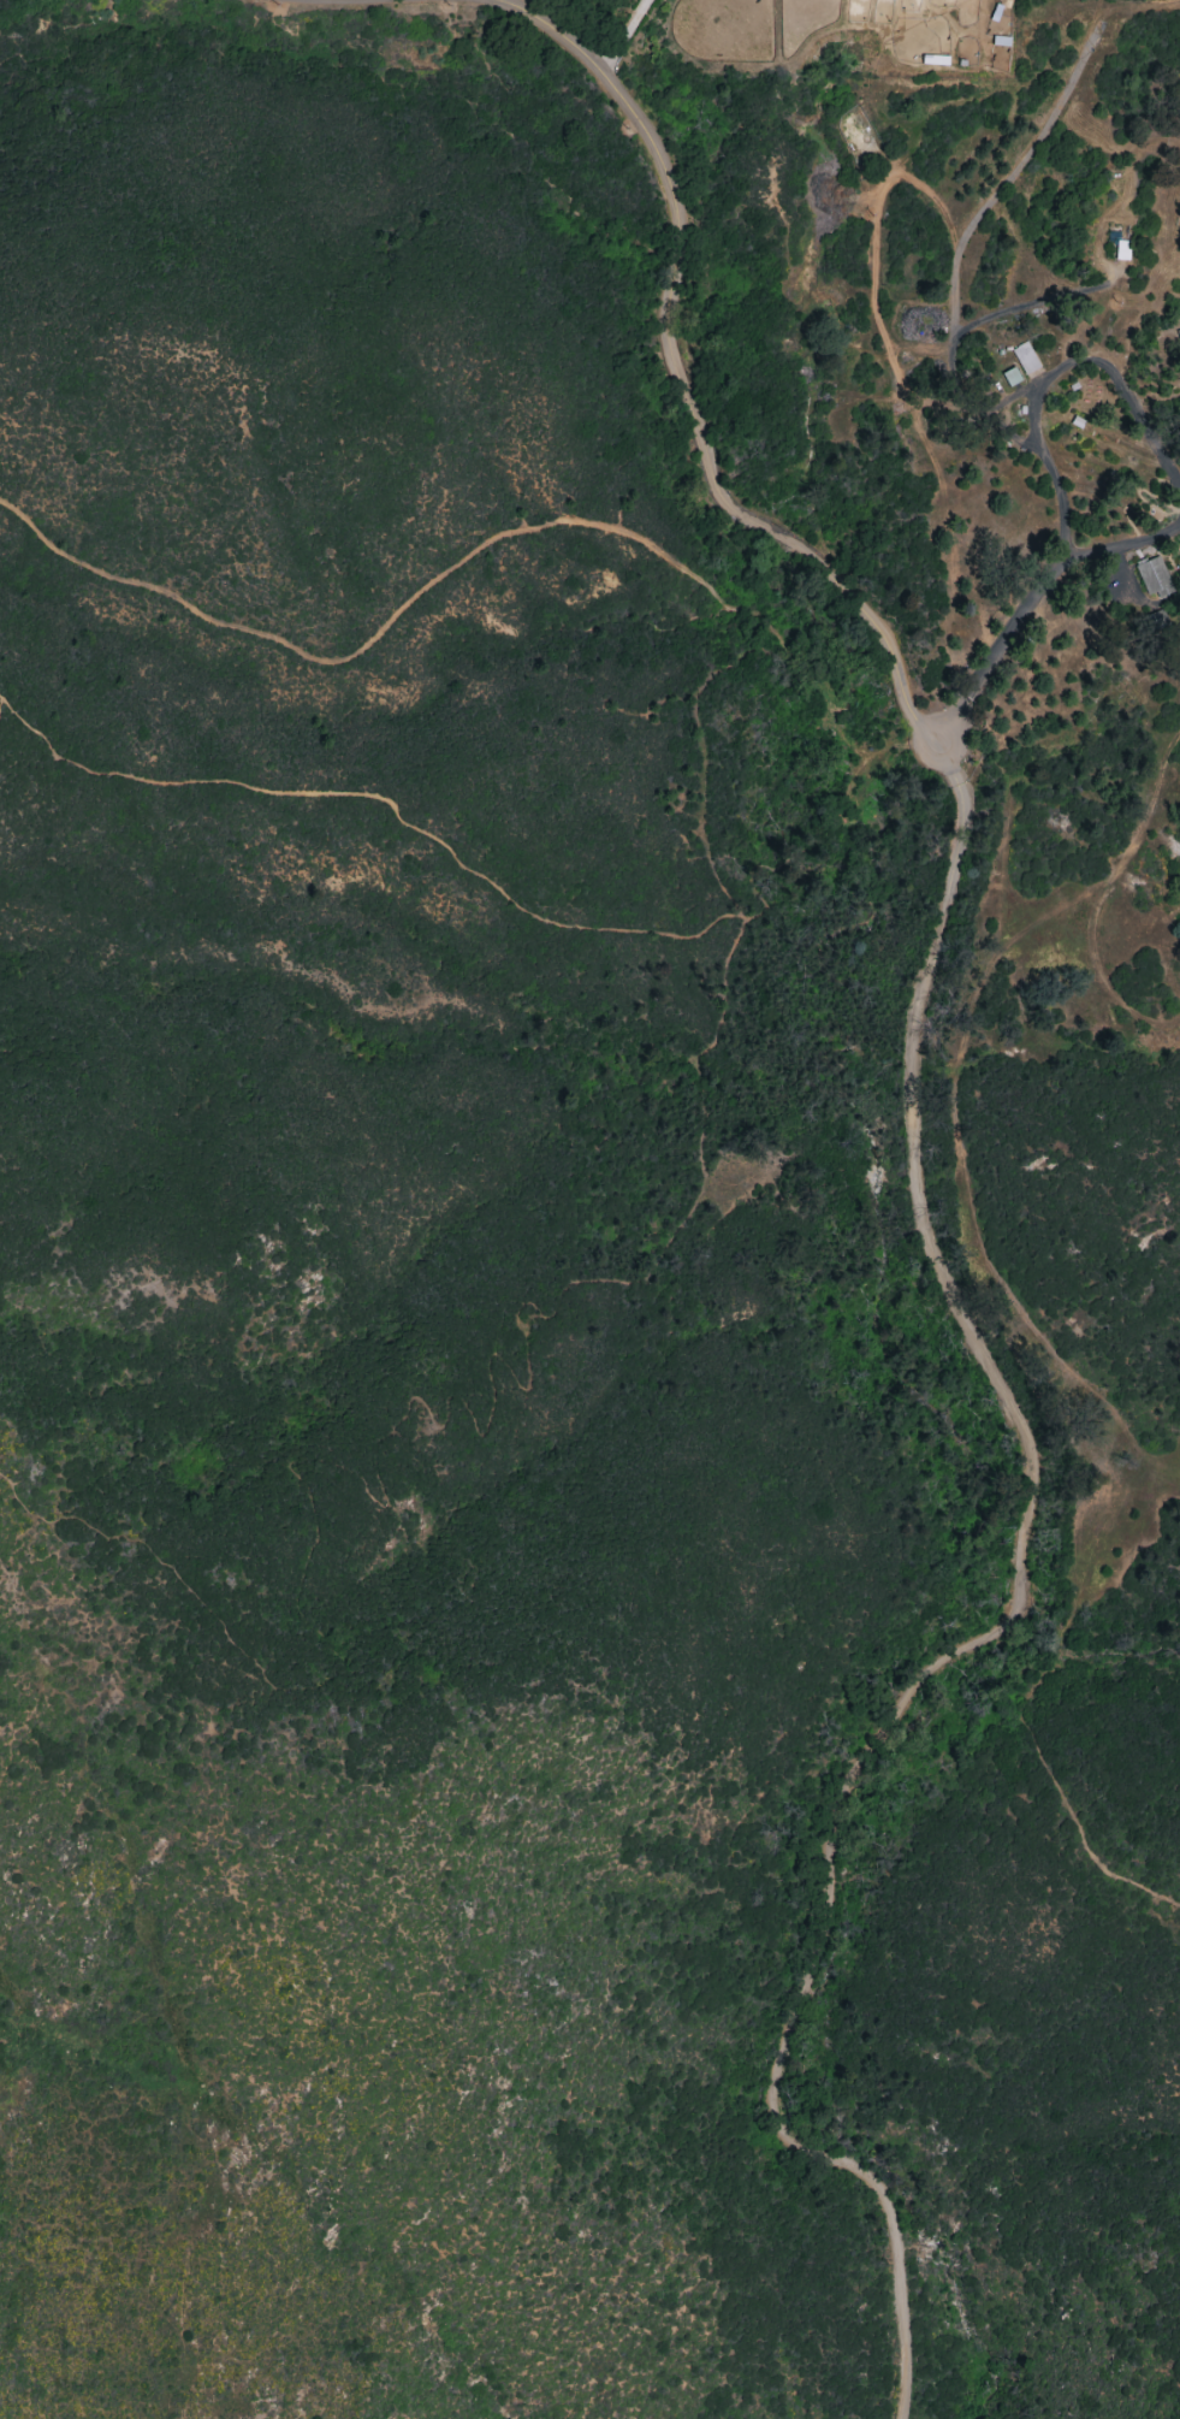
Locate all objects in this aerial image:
road: (625, 35)
road: (961, 249)
building: (1121, 250)
building: (1178, 332)
building: (1025, 357)
building: (1010, 377)
road: (1052, 377)
road: (684, 400)
building: (1154, 576)
road: (1027, 602)
road: (368, 641)
road: (836, 692)
road: (702, 756)
road: (953, 1071)
road: (561, 1314)
road: (1157, 1460)
road: (972, 1642)
road: (1025, 1701)

